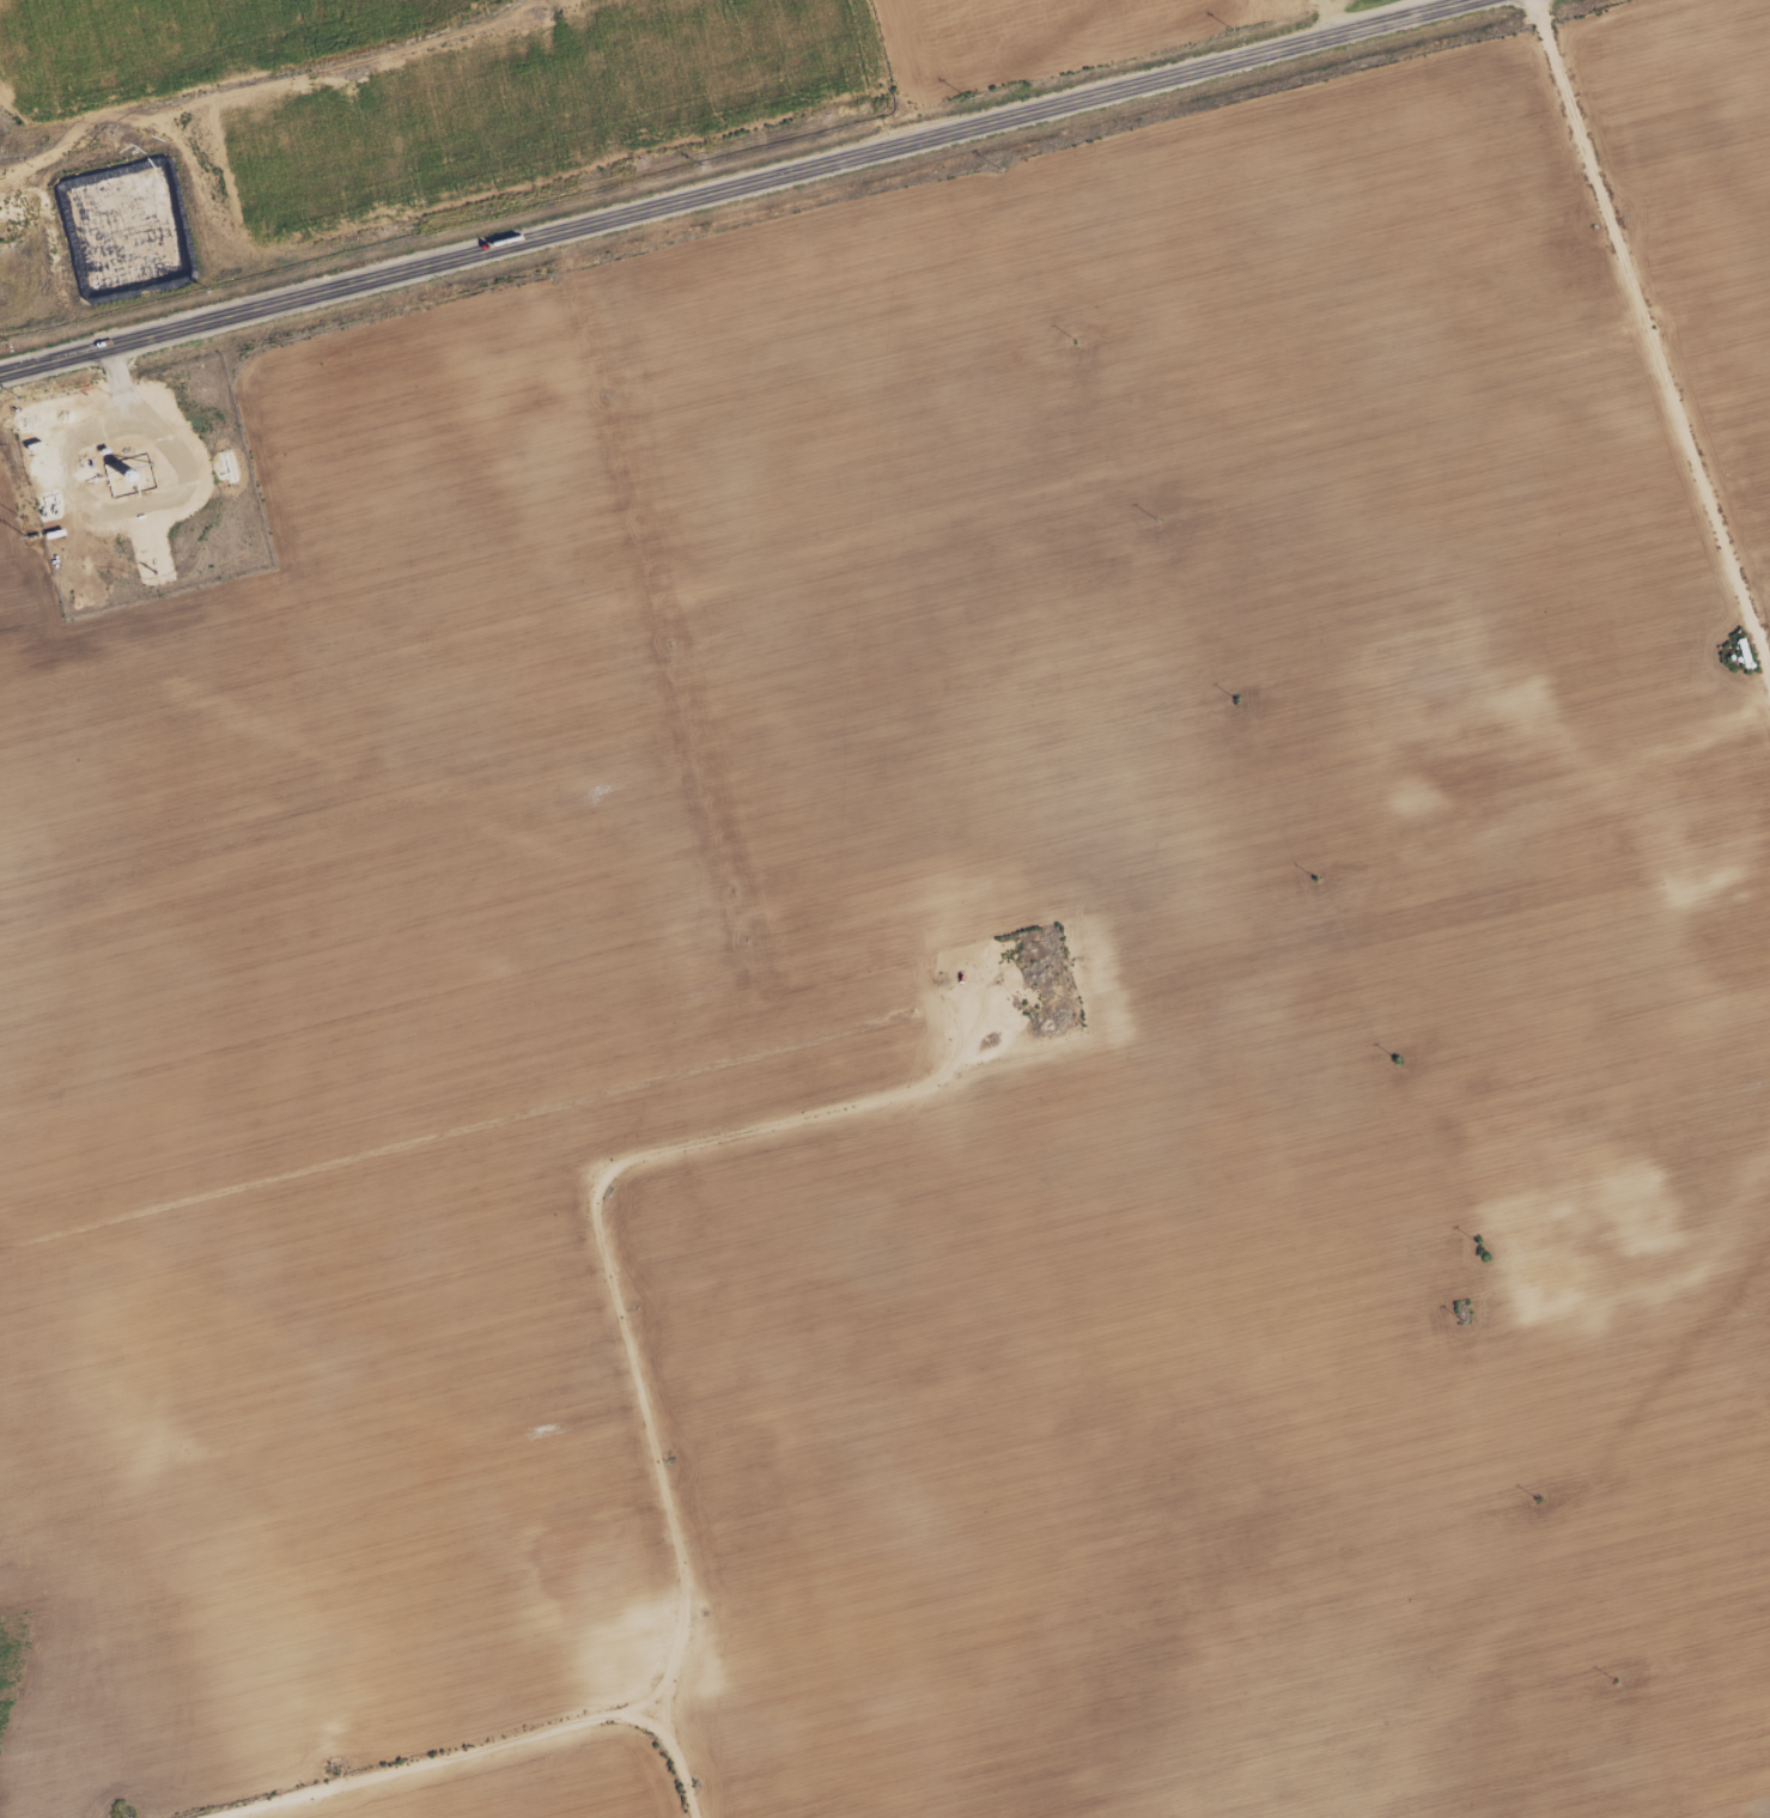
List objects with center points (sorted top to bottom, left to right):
road: (734, 186)

